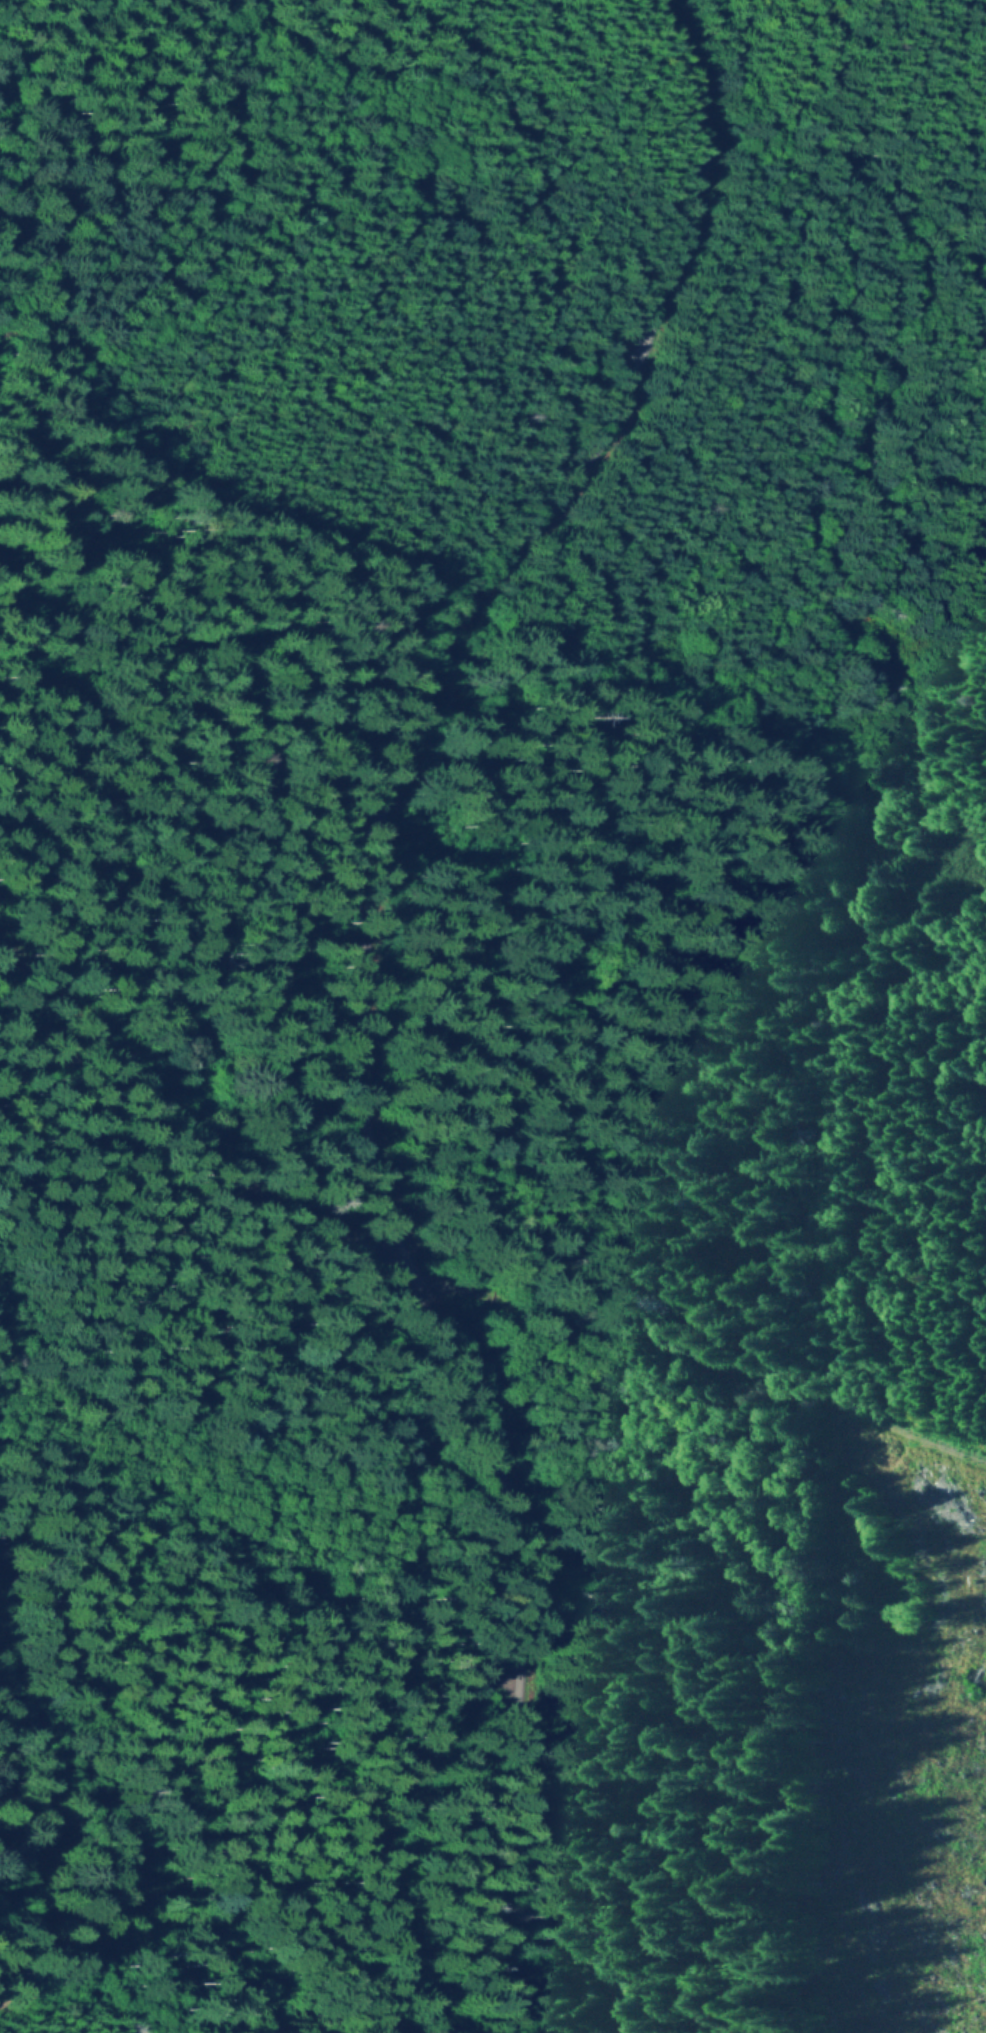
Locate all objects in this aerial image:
road: (394, 996)
road: (189, 1022)
road: (722, 1372)
road: (197, 1404)
road: (379, 1825)

